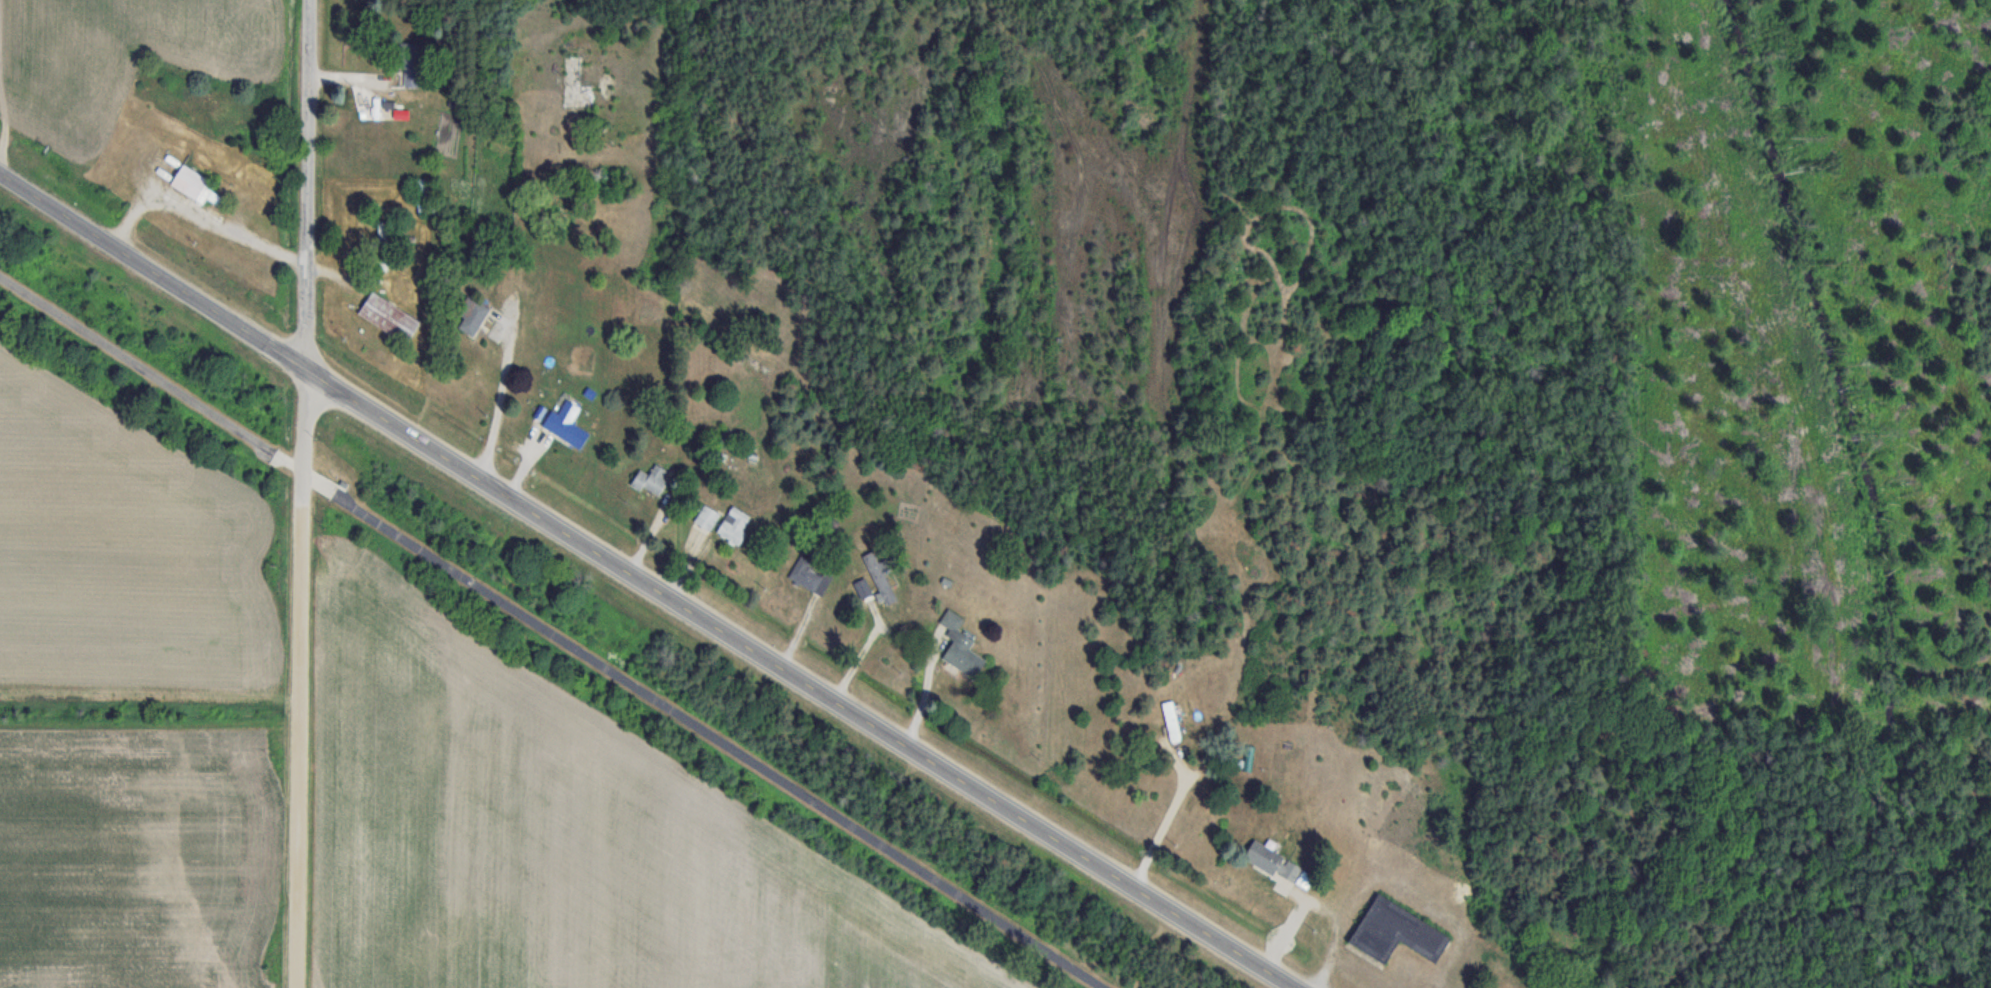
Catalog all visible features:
building: (412, 80)
building: (191, 184)
building: (426, 195)
building: (382, 246)
road: (155, 271)
building: (471, 317)
building: (388, 318)
road: (499, 391)
building: (566, 425)
building: (651, 480)
road: (305, 493)
building: (707, 518)
building: (734, 526)
building: (805, 573)
road: (551, 632)
building: (959, 646)
road: (802, 680)
building: (1171, 721)
road: (1154, 825)
building: (1267, 861)
building: (1394, 932)

